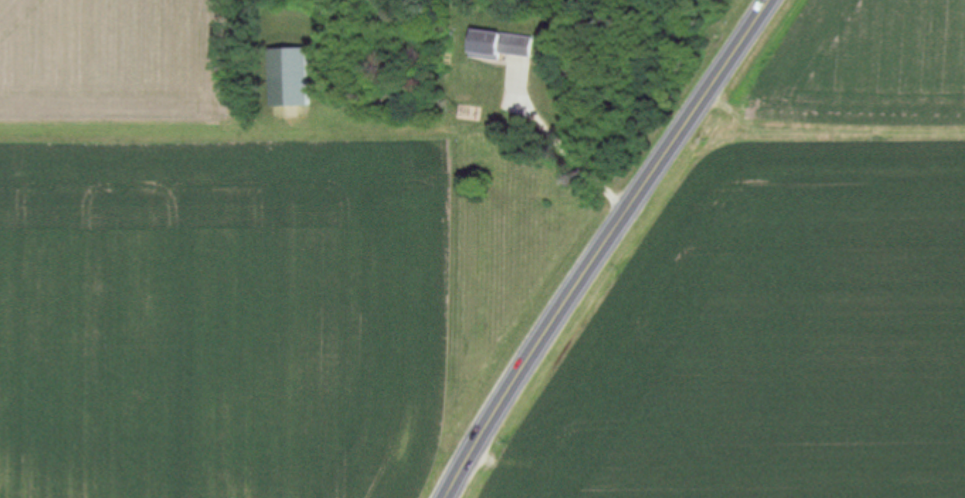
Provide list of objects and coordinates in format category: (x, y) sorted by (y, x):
road: (568, 152)
road: (613, 246)
crop: (203, 274)

